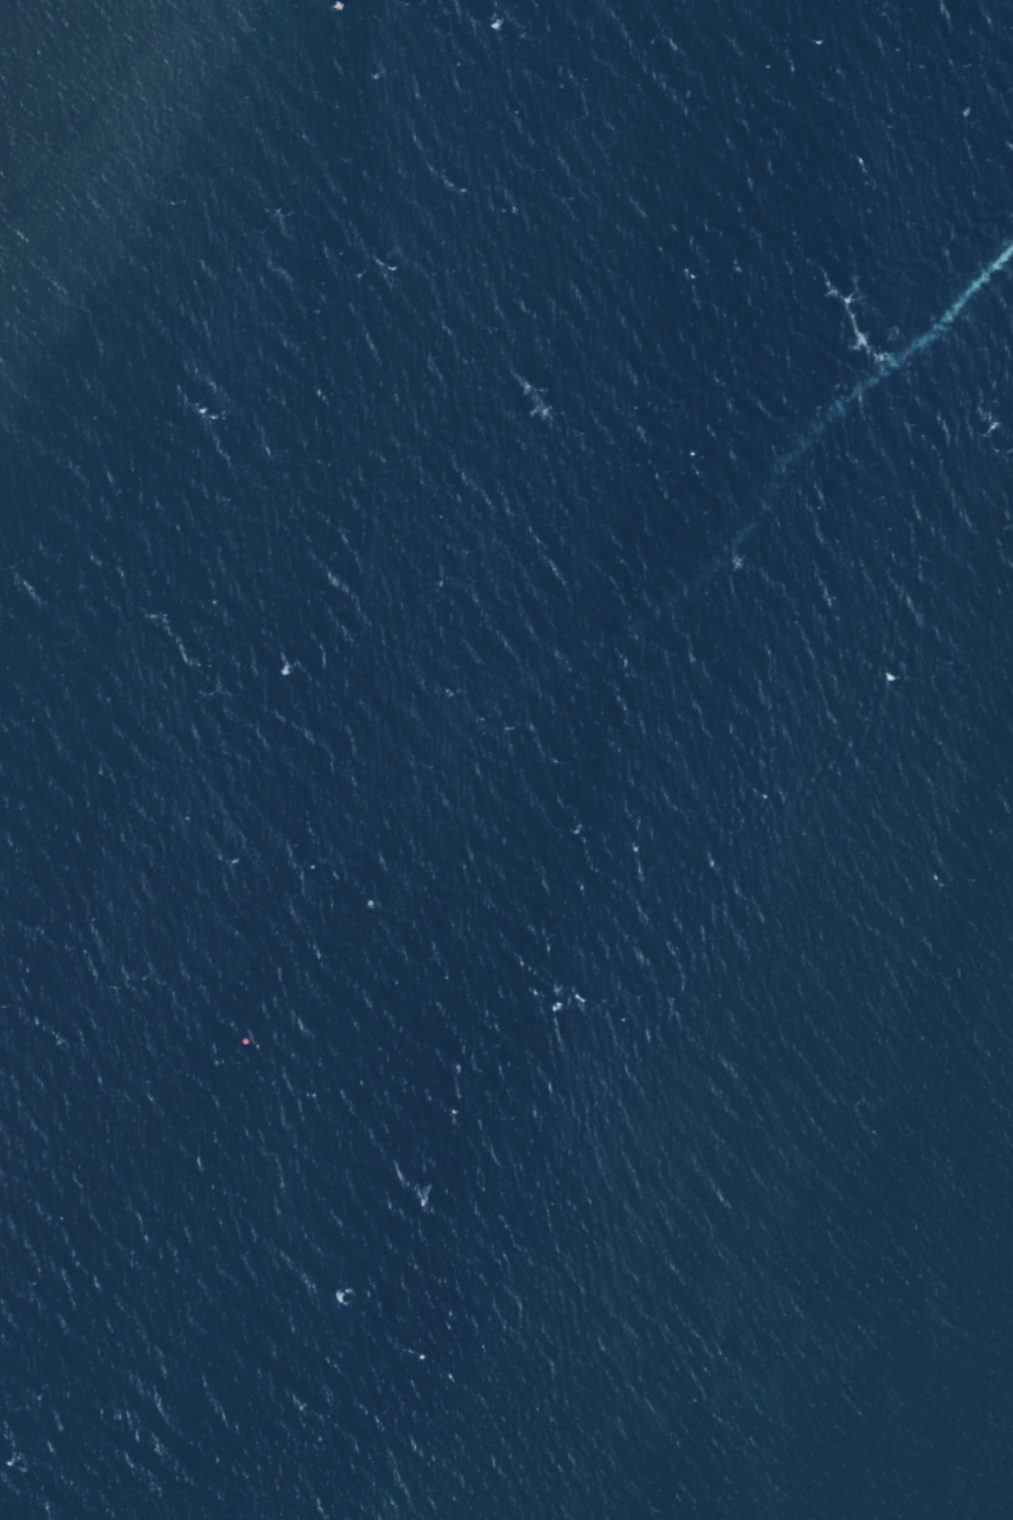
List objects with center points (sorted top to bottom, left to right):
river: (465, 773)

